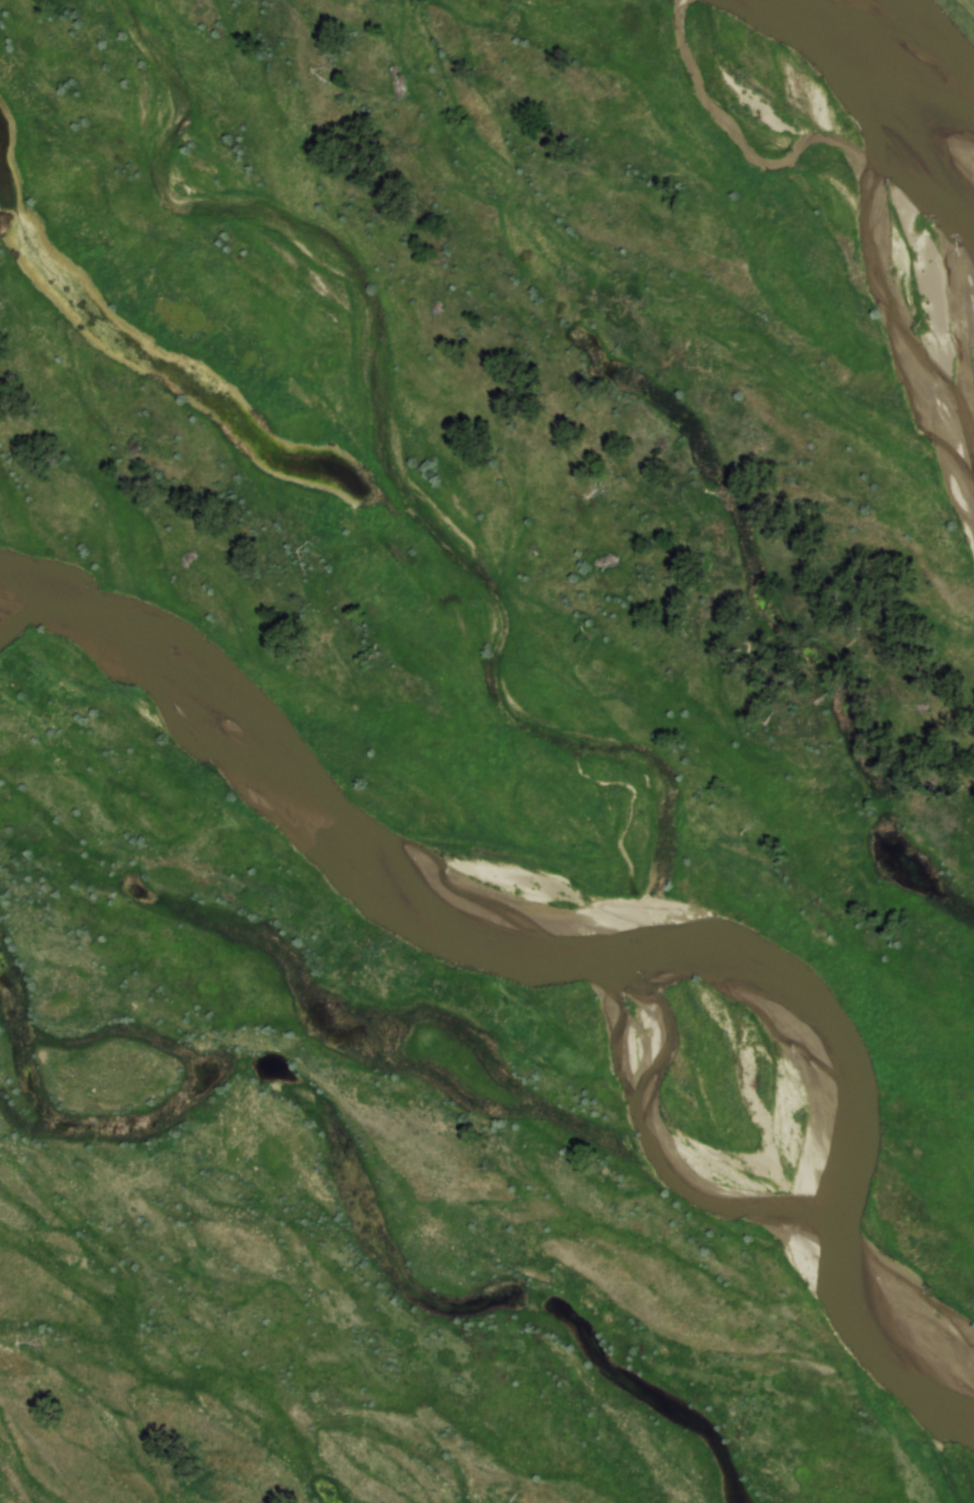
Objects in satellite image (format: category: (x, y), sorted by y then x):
river: (891, 92)

